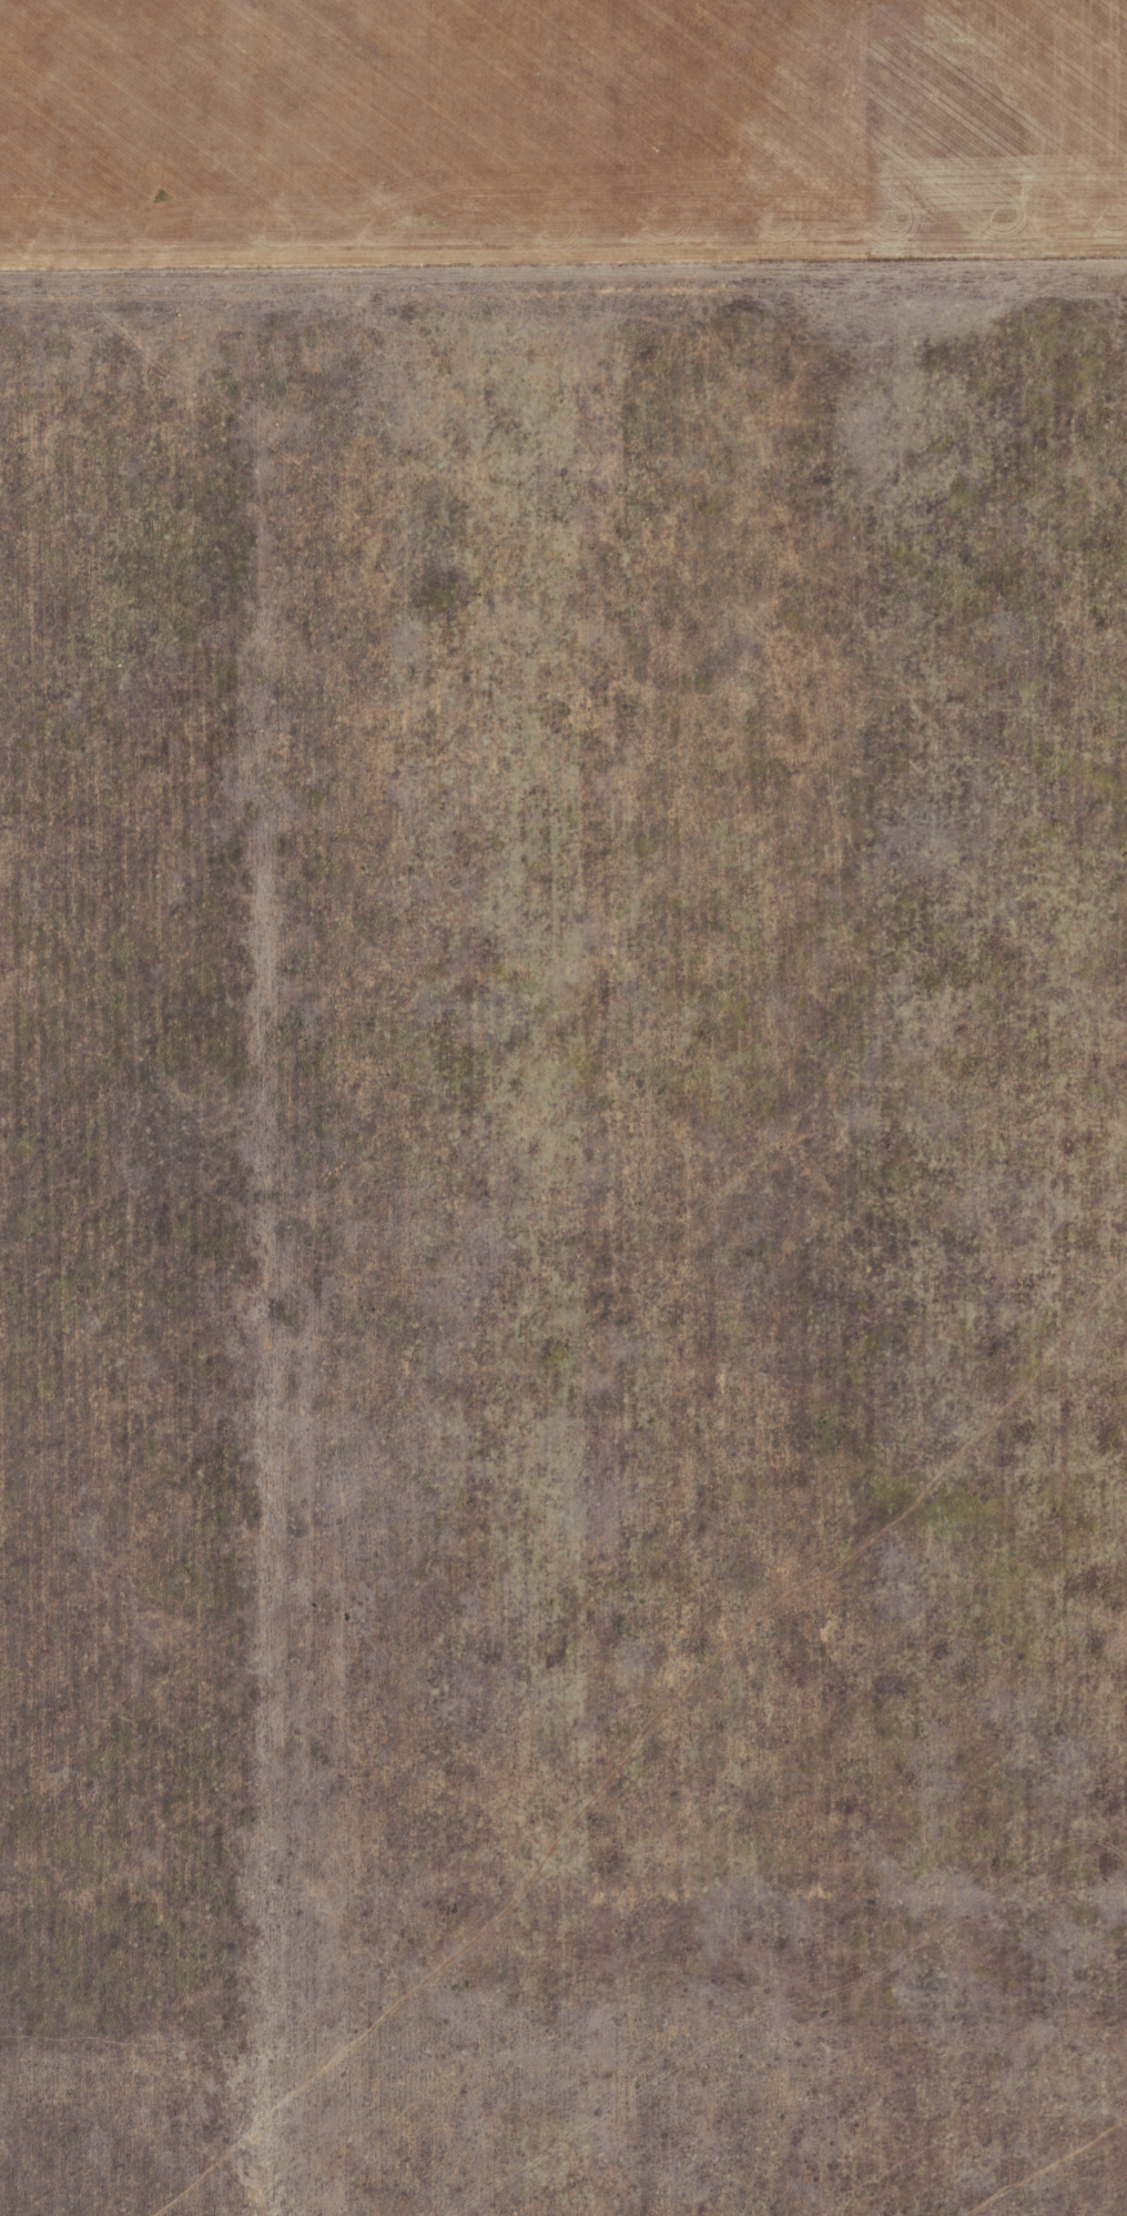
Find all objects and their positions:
road: (563, 245)

